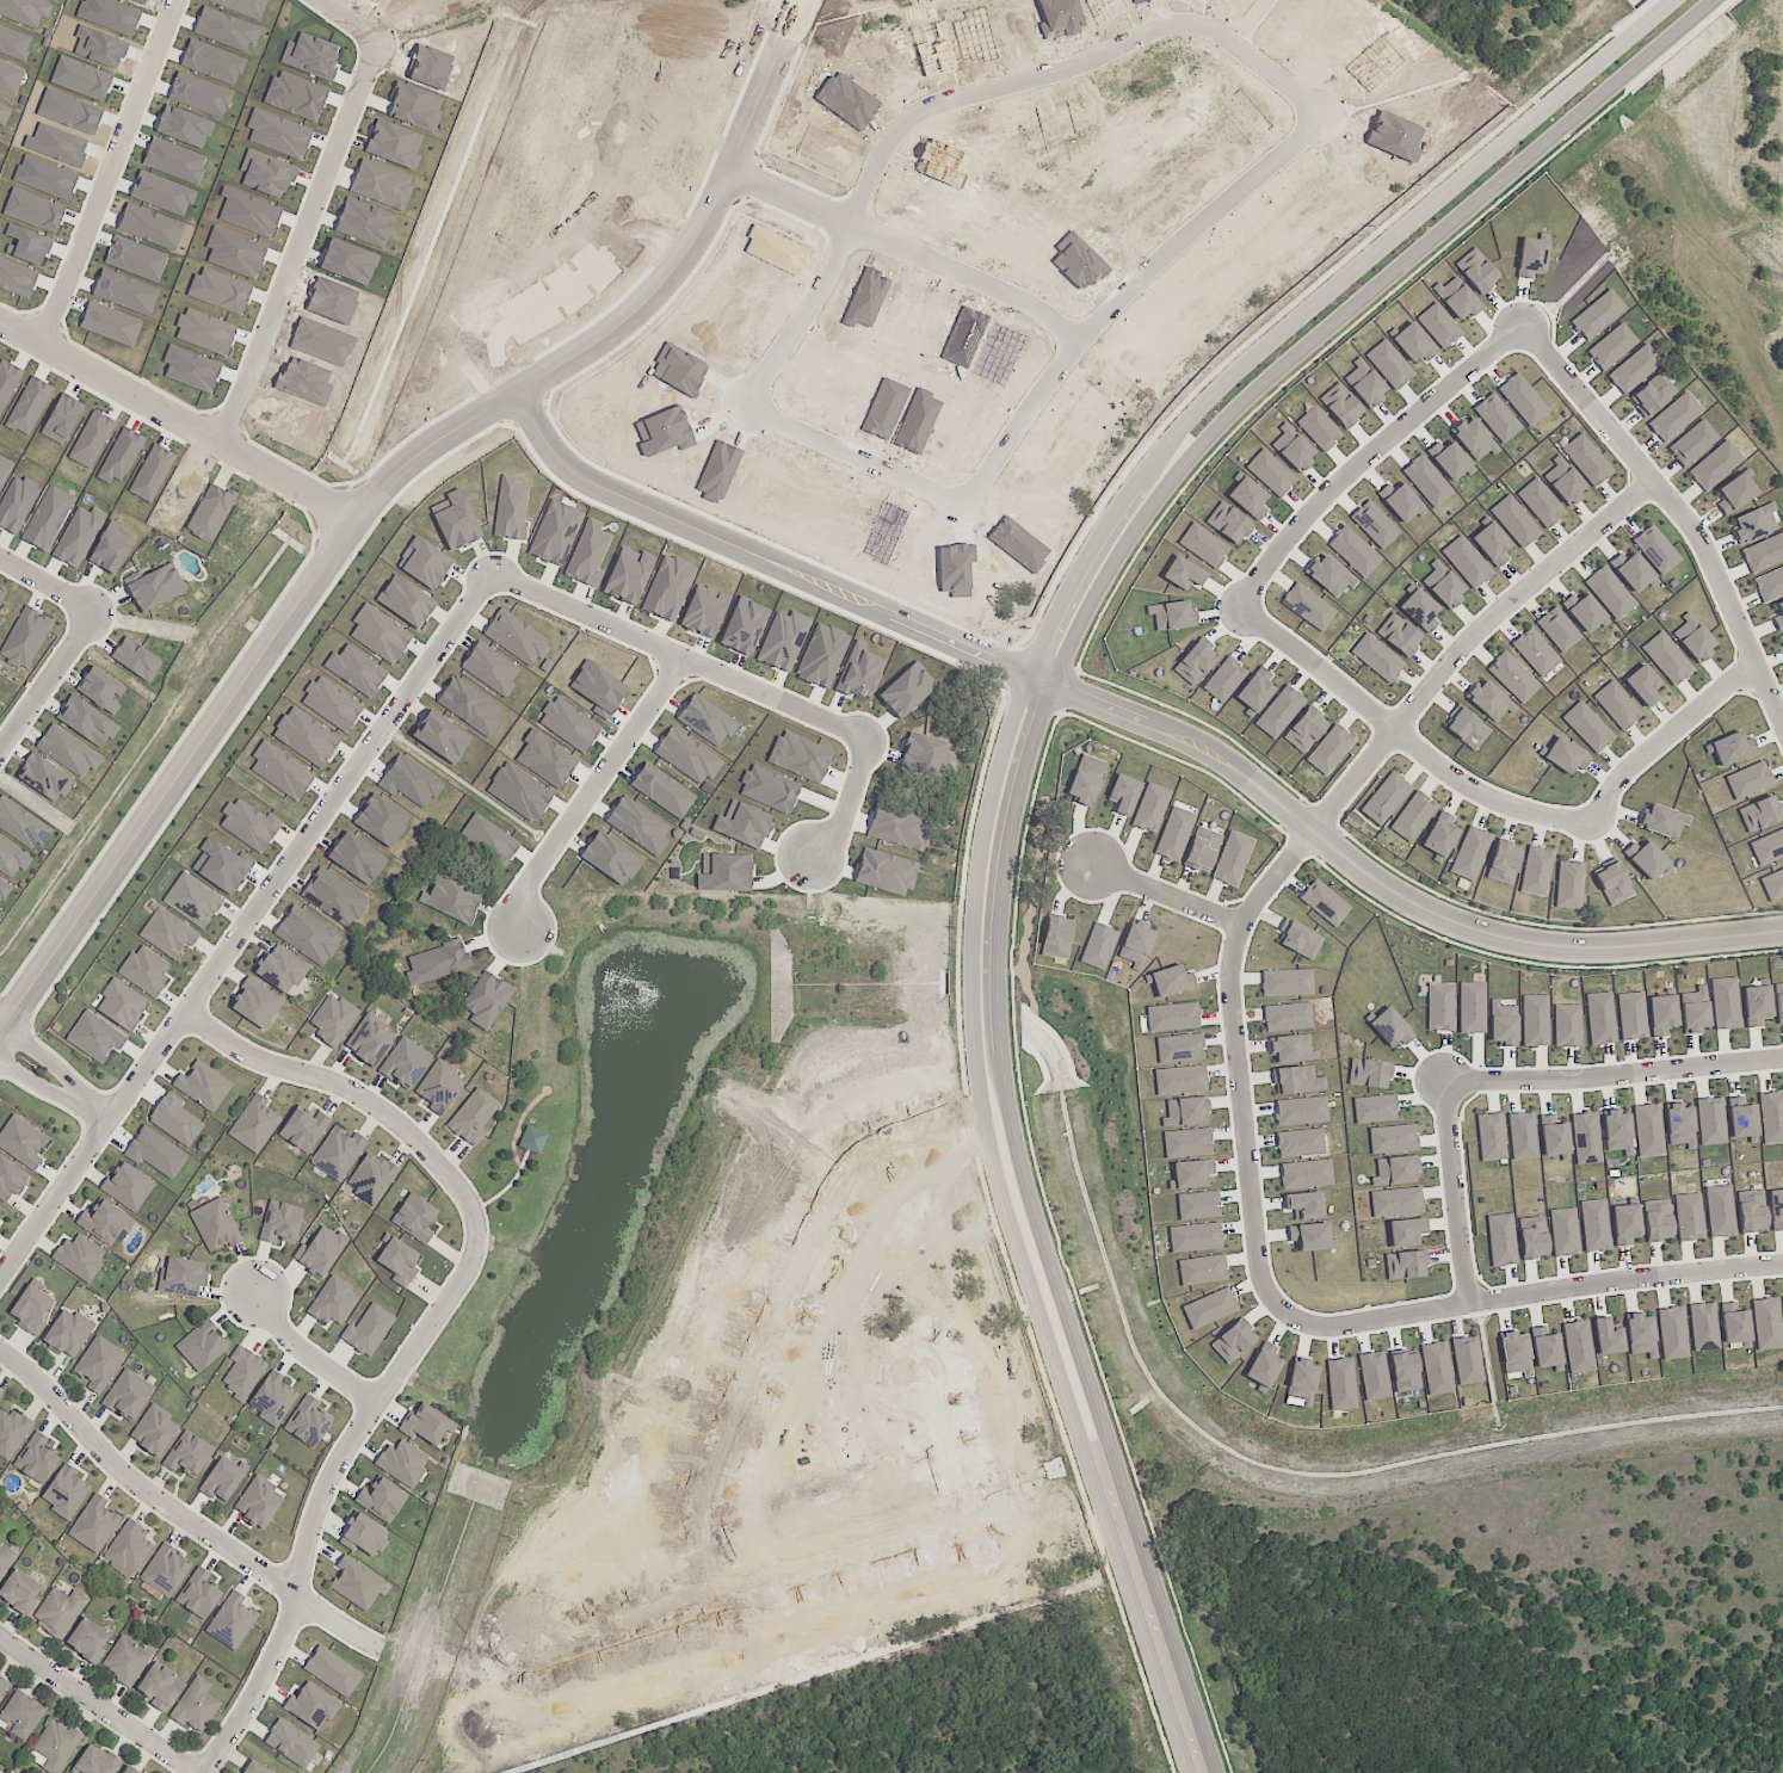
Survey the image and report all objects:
building: (24, 11)
road: (341, 24)
building: (10, 79)
road: (993, 104)
building: (4, 113)
road: (116, 173)
road: (307, 249)
road: (918, 254)
building: (1531, 258)
building: (1481, 276)
road: (665, 298)
road: (1141, 298)
building: (1457, 298)
building: (1597, 315)
building: (1611, 346)
building: (1633, 370)
building: (1652, 395)
building: (1674, 418)
road: (179, 420)
building: (1692, 443)
road: (1366, 453)
building: (1586, 459)
road: (866, 464)
building: (1714, 465)
building: (5, 469)
building: (1566, 482)
building: (1734, 493)
building: (16, 502)
building: (1541, 502)
road: (1676, 505)
building: (511, 508)
building: (210, 512)
building: (47, 518)
building: (456, 520)
building: (1514, 521)
building: (1754, 524)
building: (555, 532)
building: (76, 536)
building: (1491, 544)
building: (110, 548)
building: (1655, 549)
building: (588, 554)
building: (1763, 554)
road: (769, 562)
building: (1466, 562)
building: (425, 563)
building: (1631, 570)
building: (1183, 574)
building: (628, 576)
road: (47, 582)
building: (1769, 583)
building: (1443, 585)
building: (156, 588)
building: (667, 588)
building: (0, 593)
building: (1610, 593)
building: (405, 601)
building: (1419, 610)
building: (704, 611)
building: (1583, 611)
building: (1172, 616)
building: (1778, 616)
building: (744, 626)
building: (1557, 629)
building: (380, 634)
building: (1399, 635)
building: (516, 637)
building: (1781, 637)
building: (25, 638)
building: (1693, 638)
building: (783, 641)
building: (1535, 653)
building: (1377, 657)
building: (1667, 659)
building: (136, 660)
building: (1193, 663)
building: (489, 668)
building: (356, 669)
road: (732, 675)
building: (1512, 678)
building: (1223, 679)
road: (47, 680)
building: (1642, 684)
building: (598, 688)
building: (99, 690)
building: (1254, 690)
building: (1489, 700)
building: (331, 703)
building: (465, 704)
building: (1616, 705)
building: (1279, 712)
building: (707, 719)
building: (86, 722)
building: (568, 724)
building: (1587, 727)
building: (1467, 729)
building: (1304, 730)
road: (1670, 733)
road: (1406, 734)
building: (440, 735)
building: (304, 736)
building: (1730, 747)
building: (1329, 749)
building: (68, 750)
road: (192, 755)
building: (686, 756)
building: (1565, 756)
building: (544, 759)
road: (1042, 764)
road: (1014, 767)
building: (279, 770)
building: (44, 778)
building: (1748, 780)
building: (409, 782)
building: (1084, 782)
road: (591, 786)
building: (661, 790)
building: (1124, 793)
building: (531, 795)
building: (1386, 798)
building: (1150, 808)
building: (1760, 814)
building: (1412, 816)
building: (380, 820)
building: (1662, 821)
building: (248, 826)
building: (637, 826)
building: (24, 828)
building: (1174, 834)
building: (1439, 836)
building: (488, 839)
road: (1302, 841)
building: (1767, 847)
building: (1202, 850)
building: (1470, 853)
building: (356, 858)
building: (1645, 858)
building: (610, 859)
building: (1232, 859)
building: (16, 864)
building: (1503, 864)
building: (222, 865)
building: (1536, 870)
building: (1569, 884)
building: (1614, 884)
building: (1772, 884)
road: (1386, 886)
road: (1166, 890)
building: (5, 891)
building: (333, 897)
building: (450, 898)
building: (192, 900)
building: (1324, 902)
road: (245, 925)
building: (173, 935)
building: (307, 935)
building: (1056, 938)
building: (1301, 940)
building: (1136, 944)
building: (1098, 946)
building: (436, 963)
building: (286, 974)
building: (149, 975)
building: (1171, 981)
building: (1287, 983)
building: (486, 1000)
building: (1778, 1001)
building: (1725, 1003)
building: (122, 1005)
building: (259, 1005)
building: (1756, 1005)
building: (1439, 1007)
building: (1472, 1008)
building: (1695, 1009)
building: (1661, 1014)
building: (1631, 1015)
building: (1172, 1017)
building: (1287, 1017)
building: (1599, 1018)
building: (332, 1019)
building: (1534, 1020)
road: (1, 1023)
building: (1501, 1024)
building: (1566, 1026)
building: (1389, 1028)
building: (94, 1037)
building: (369, 1039)
building: (1179, 1048)
building: (1291, 1049)
road: (48, 1056)
building: (405, 1062)
building: (1369, 1074)
road: (1610, 1075)
building: (1179, 1080)
building: (1294, 1080)
road: (39, 1081)
building: (203, 1081)
building: (439, 1087)
road: (97, 1108)
building: (1374, 1108)
building: (1300, 1111)
building: (1185, 1112)
building: (473, 1117)
building: (1771, 1117)
building: (1741, 1118)
building: (177, 1119)
building: (1710, 1120)
building: (254, 1124)
building: (1680, 1125)
building: (303, 1129)
building: (1648, 1130)
building: (1617, 1131)
building: (1491, 1136)
building: (1522, 1136)
building: (1554, 1137)
building: (1586, 1137)
building: (1393, 1138)
building: (531, 1139)
building: (21, 1142)
building: (1186, 1142)
building: (1300, 1143)
building: (338, 1153)
building: (1395, 1170)
building: (1306, 1173)
building: (1191, 1174)
building: (371, 1178)
building: (10, 1179)
road: (1451, 1188)
building: (131, 1192)
building: (1396, 1201)
building: (1198, 1205)
building: (1304, 1205)
building: (0, 1209)
building: (1776, 1209)
building: (1720, 1211)
building: (1751, 1211)
building: (414, 1217)
building: (1689, 1217)
building: (1656, 1219)
building: (280, 1222)
building: (1625, 1224)
building: (215, 1225)
building: (1594, 1225)
building: (106, 1228)
building: (1406, 1231)
building: (1563, 1231)
building: (1310, 1236)
building: (1193, 1237)
building: (1532, 1237)
building: (1501, 1240)
building: (321, 1250)
building: (85, 1259)
building: (397, 1261)
building: (1405, 1265)
building: (1202, 1269)
building: (181, 1277)
road: (1534, 1290)
building: (333, 1302)
road: (784, 1306)
building: (1209, 1308)
building: (35, 1316)
building: (1766, 1323)
building: (1734, 1324)
building: (1703, 1327)
building: (368, 1329)
road: (425, 1332)
building: (1672, 1333)
building: (1641, 1335)
building: (72, 1336)
building: (1608, 1338)
building: (1233, 1341)
building: (200, 1346)
building: (1578, 1346)
building: (1546, 1347)
road: (306, 1351)
building: (1516, 1353)
building: (1467, 1360)
building: (1264, 1365)
building: (101, 1367)
building: (1436, 1367)
building: (1403, 1371)
building: (242, 1372)
building: (1374, 1376)
building: (1302, 1380)
building: (1340, 1384)
building: (0, 1395)
building: (272, 1398)
building: (131, 1400)
building: (308, 1422)
building: (426, 1425)
building: (10, 1428)
road: (944, 1434)
building: (158, 1435)
building: (192, 1457)
building: (36, 1459)
building: (403, 1463)
building: (229, 1483)
building: (64, 1491)
building: (381, 1499)
building: (263, 1505)
road: (179, 1513)
building: (92, 1518)
building: (363, 1534)
building: (131, 1543)
building: (6, 1559)
building: (165, 1570)
road: (742, 1582)
building: (356, 1583)
building: (24, 1592)
building: (198, 1594)
building: (62, 1612)
building: (232, 1621)
building: (92, 1641)
building: (129, 1660)
building: (332, 1672)
building: (4, 1686)
building: (162, 1687)
road: (98, 1705)
building: (199, 1705)
building: (311, 1705)
building: (21, 1715)
building: (291, 1743)
building: (58, 1744)
building: (97, 1761)
building: (255, 1768)
building: (129, 1771)
building: (136, 1771)

